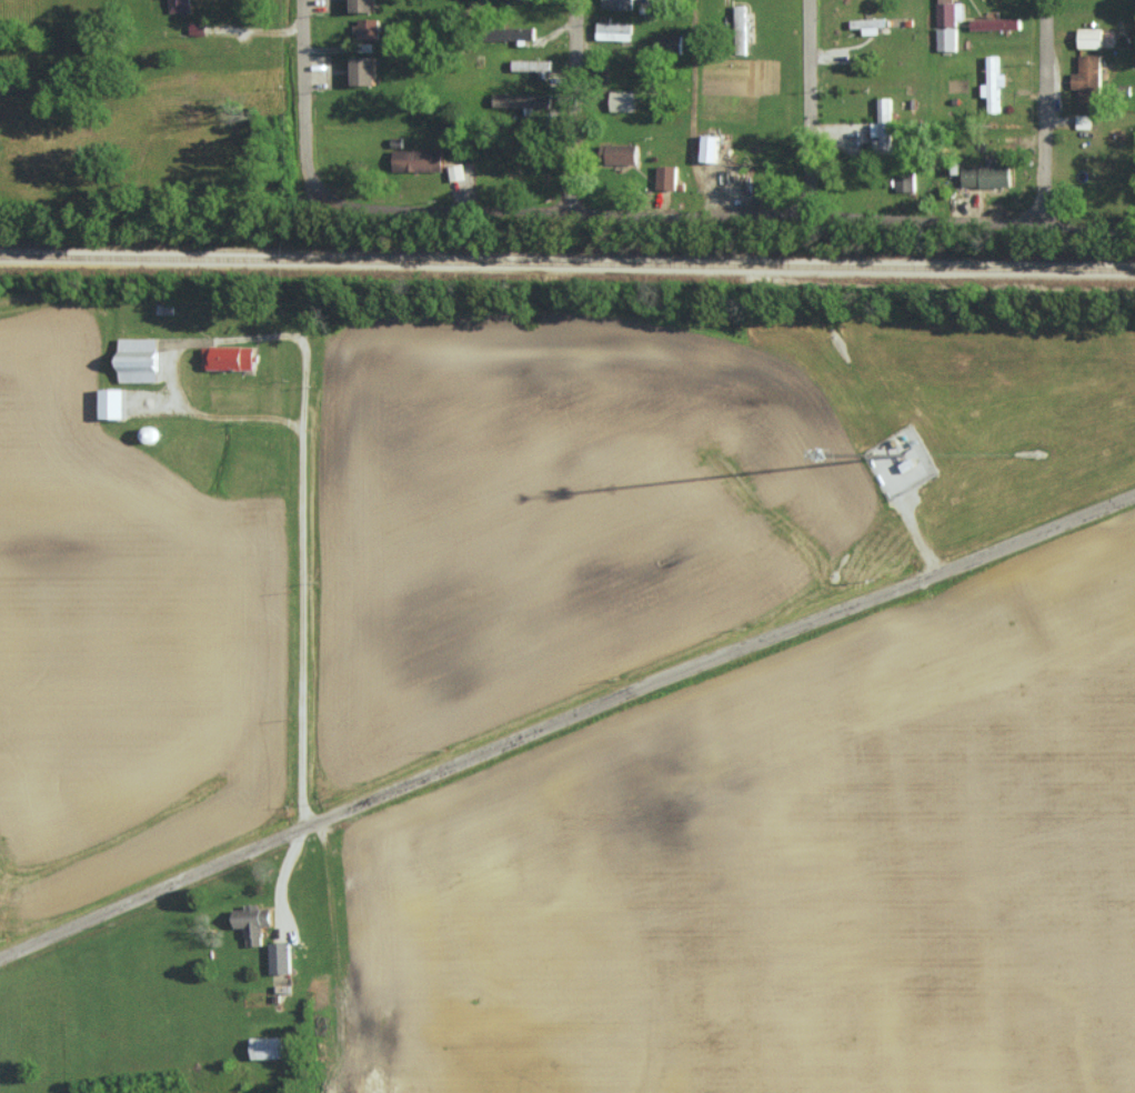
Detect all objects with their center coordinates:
building: (617, 3)
building: (178, 4)
building: (362, 4)
building: (950, 11)
building: (995, 22)
building: (867, 24)
building: (366, 28)
building: (740, 29)
building: (613, 30)
building: (510, 32)
building: (1089, 37)
building: (946, 38)
building: (670, 41)
building: (533, 66)
building: (362, 70)
building: (1087, 81)
building: (993, 83)
road: (304, 98)
building: (521, 100)
building: (622, 101)
road: (572, 103)
road: (810, 107)
road: (1041, 111)
building: (1083, 121)
building: (883, 123)
building: (709, 148)
building: (619, 153)
building: (418, 159)
building: (455, 171)
building: (986, 176)
building: (666, 177)
road: (726, 211)
railway: (567, 259)
building: (228, 357)
building: (137, 359)
building: (111, 403)
building: (898, 454)
road: (308, 568)
road: (567, 732)
building: (252, 922)
building: (279, 957)
building: (265, 1046)

